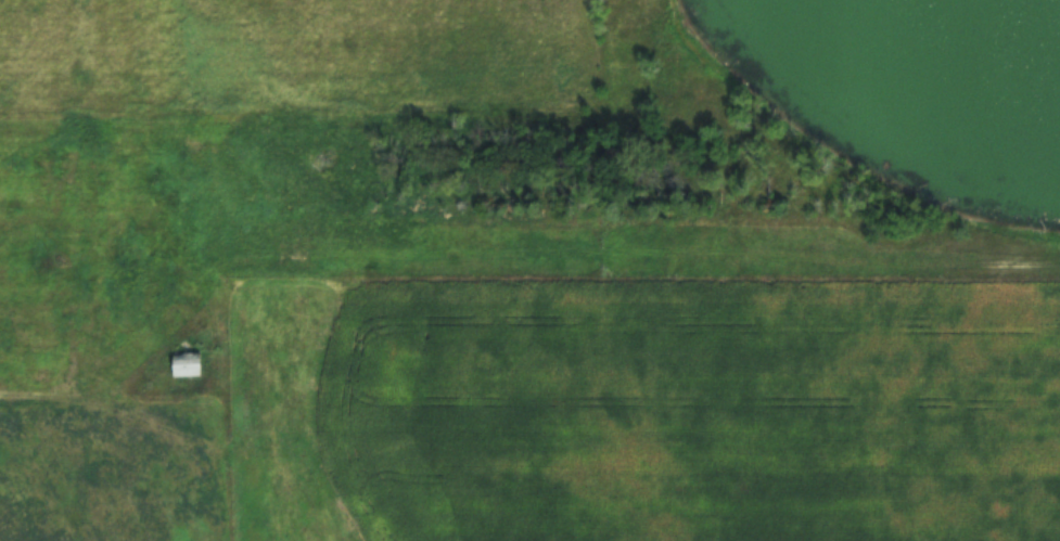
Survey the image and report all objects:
building: (188, 365)
crop: (649, 414)

